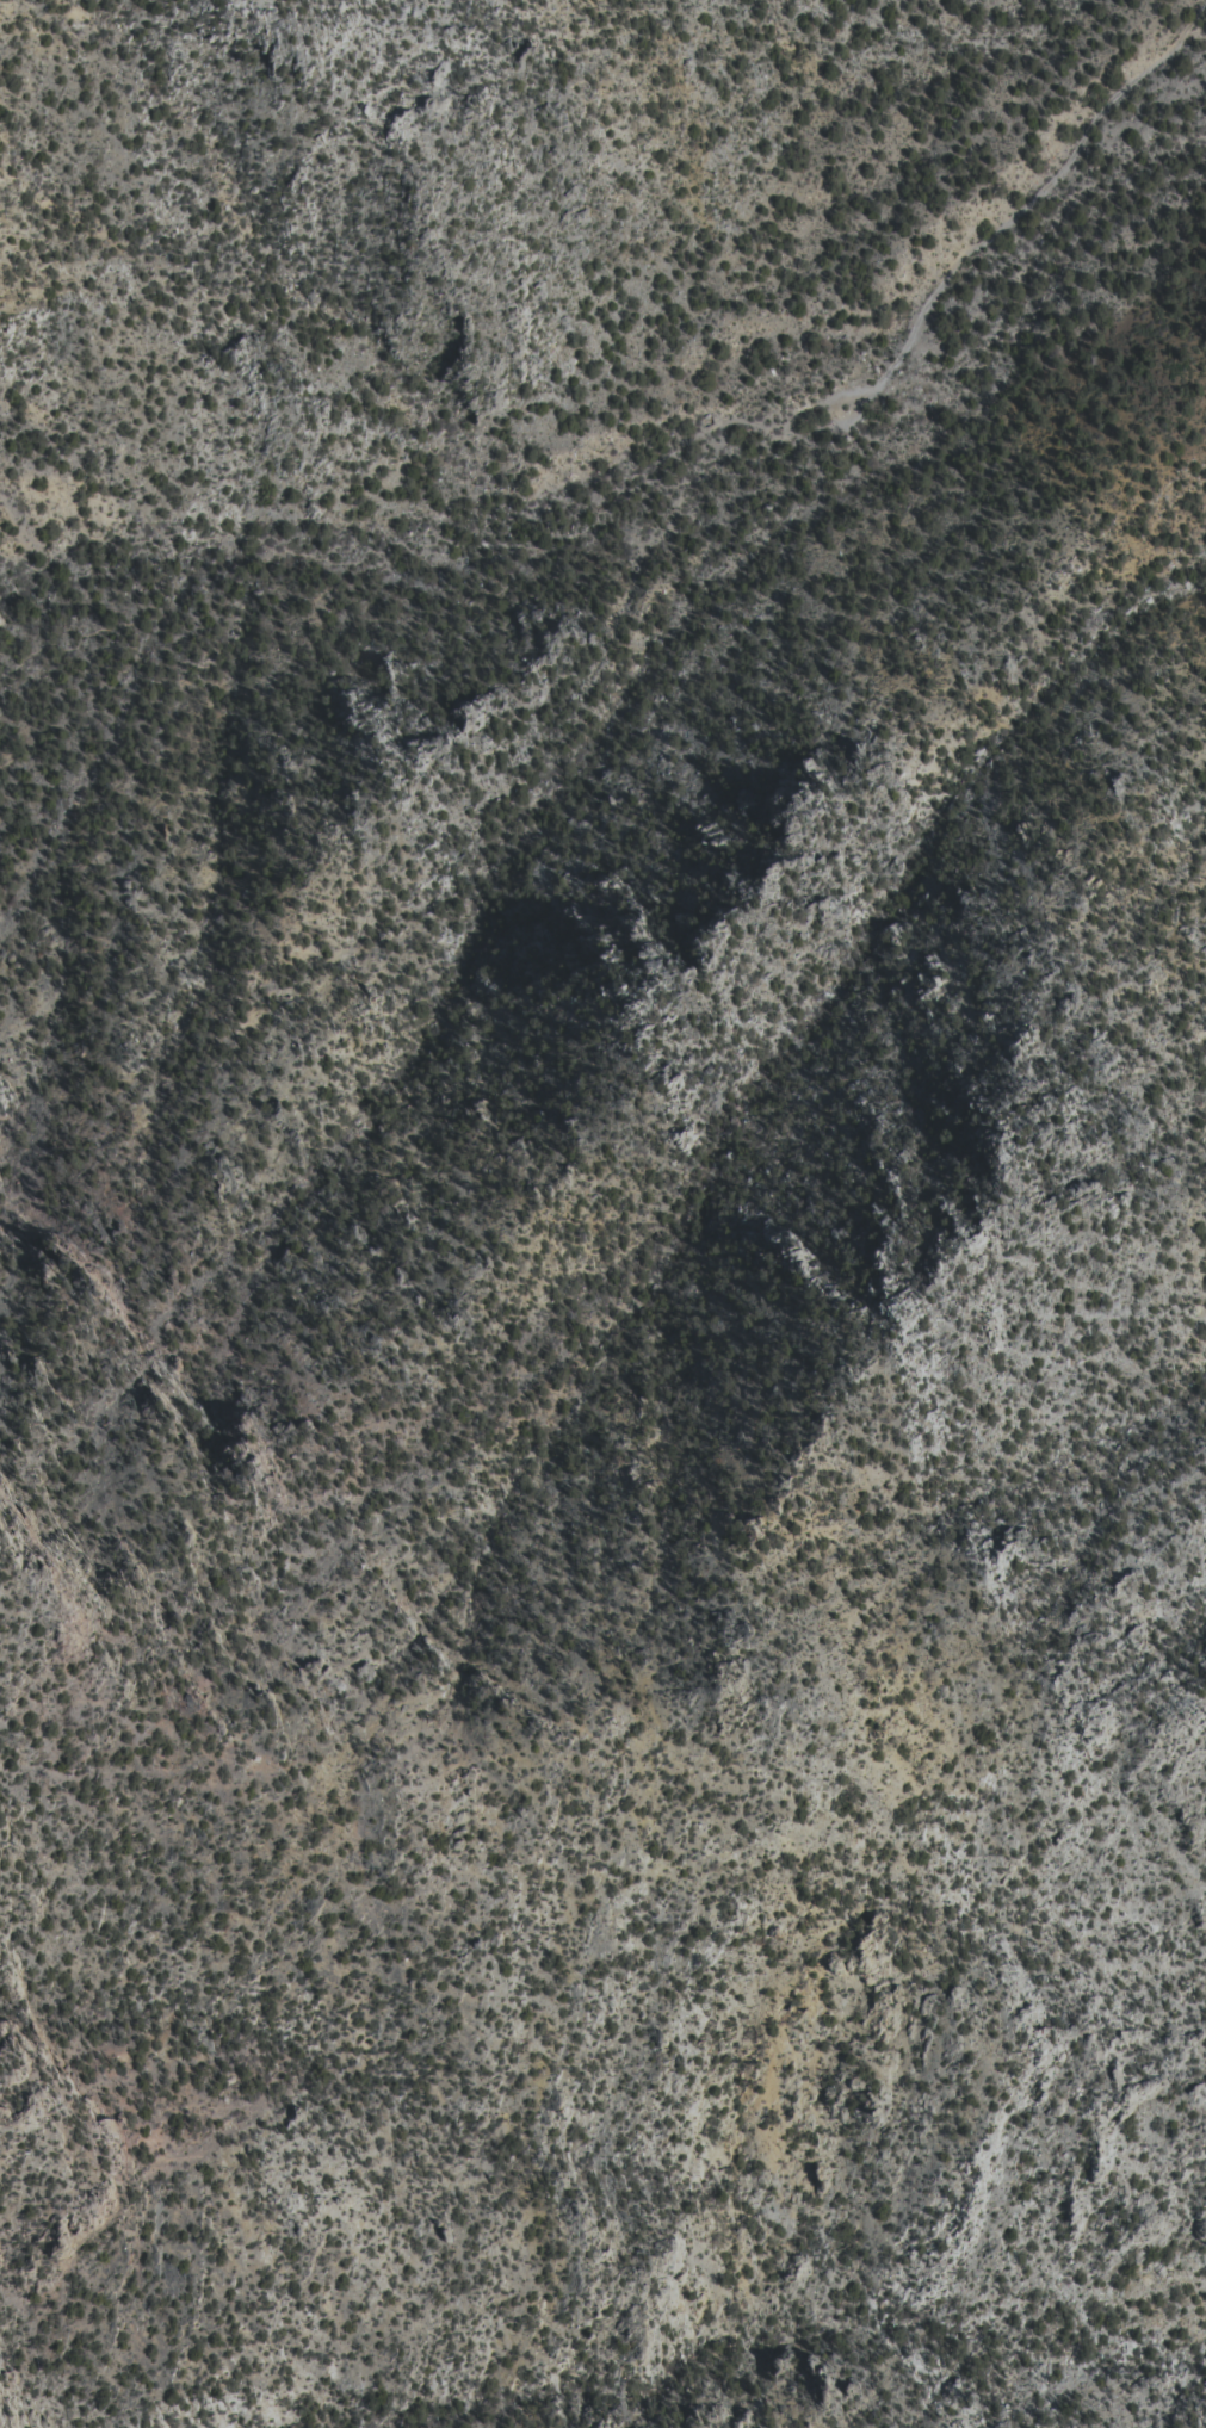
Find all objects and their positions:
road: (1039, 192)
road: (446, 527)

